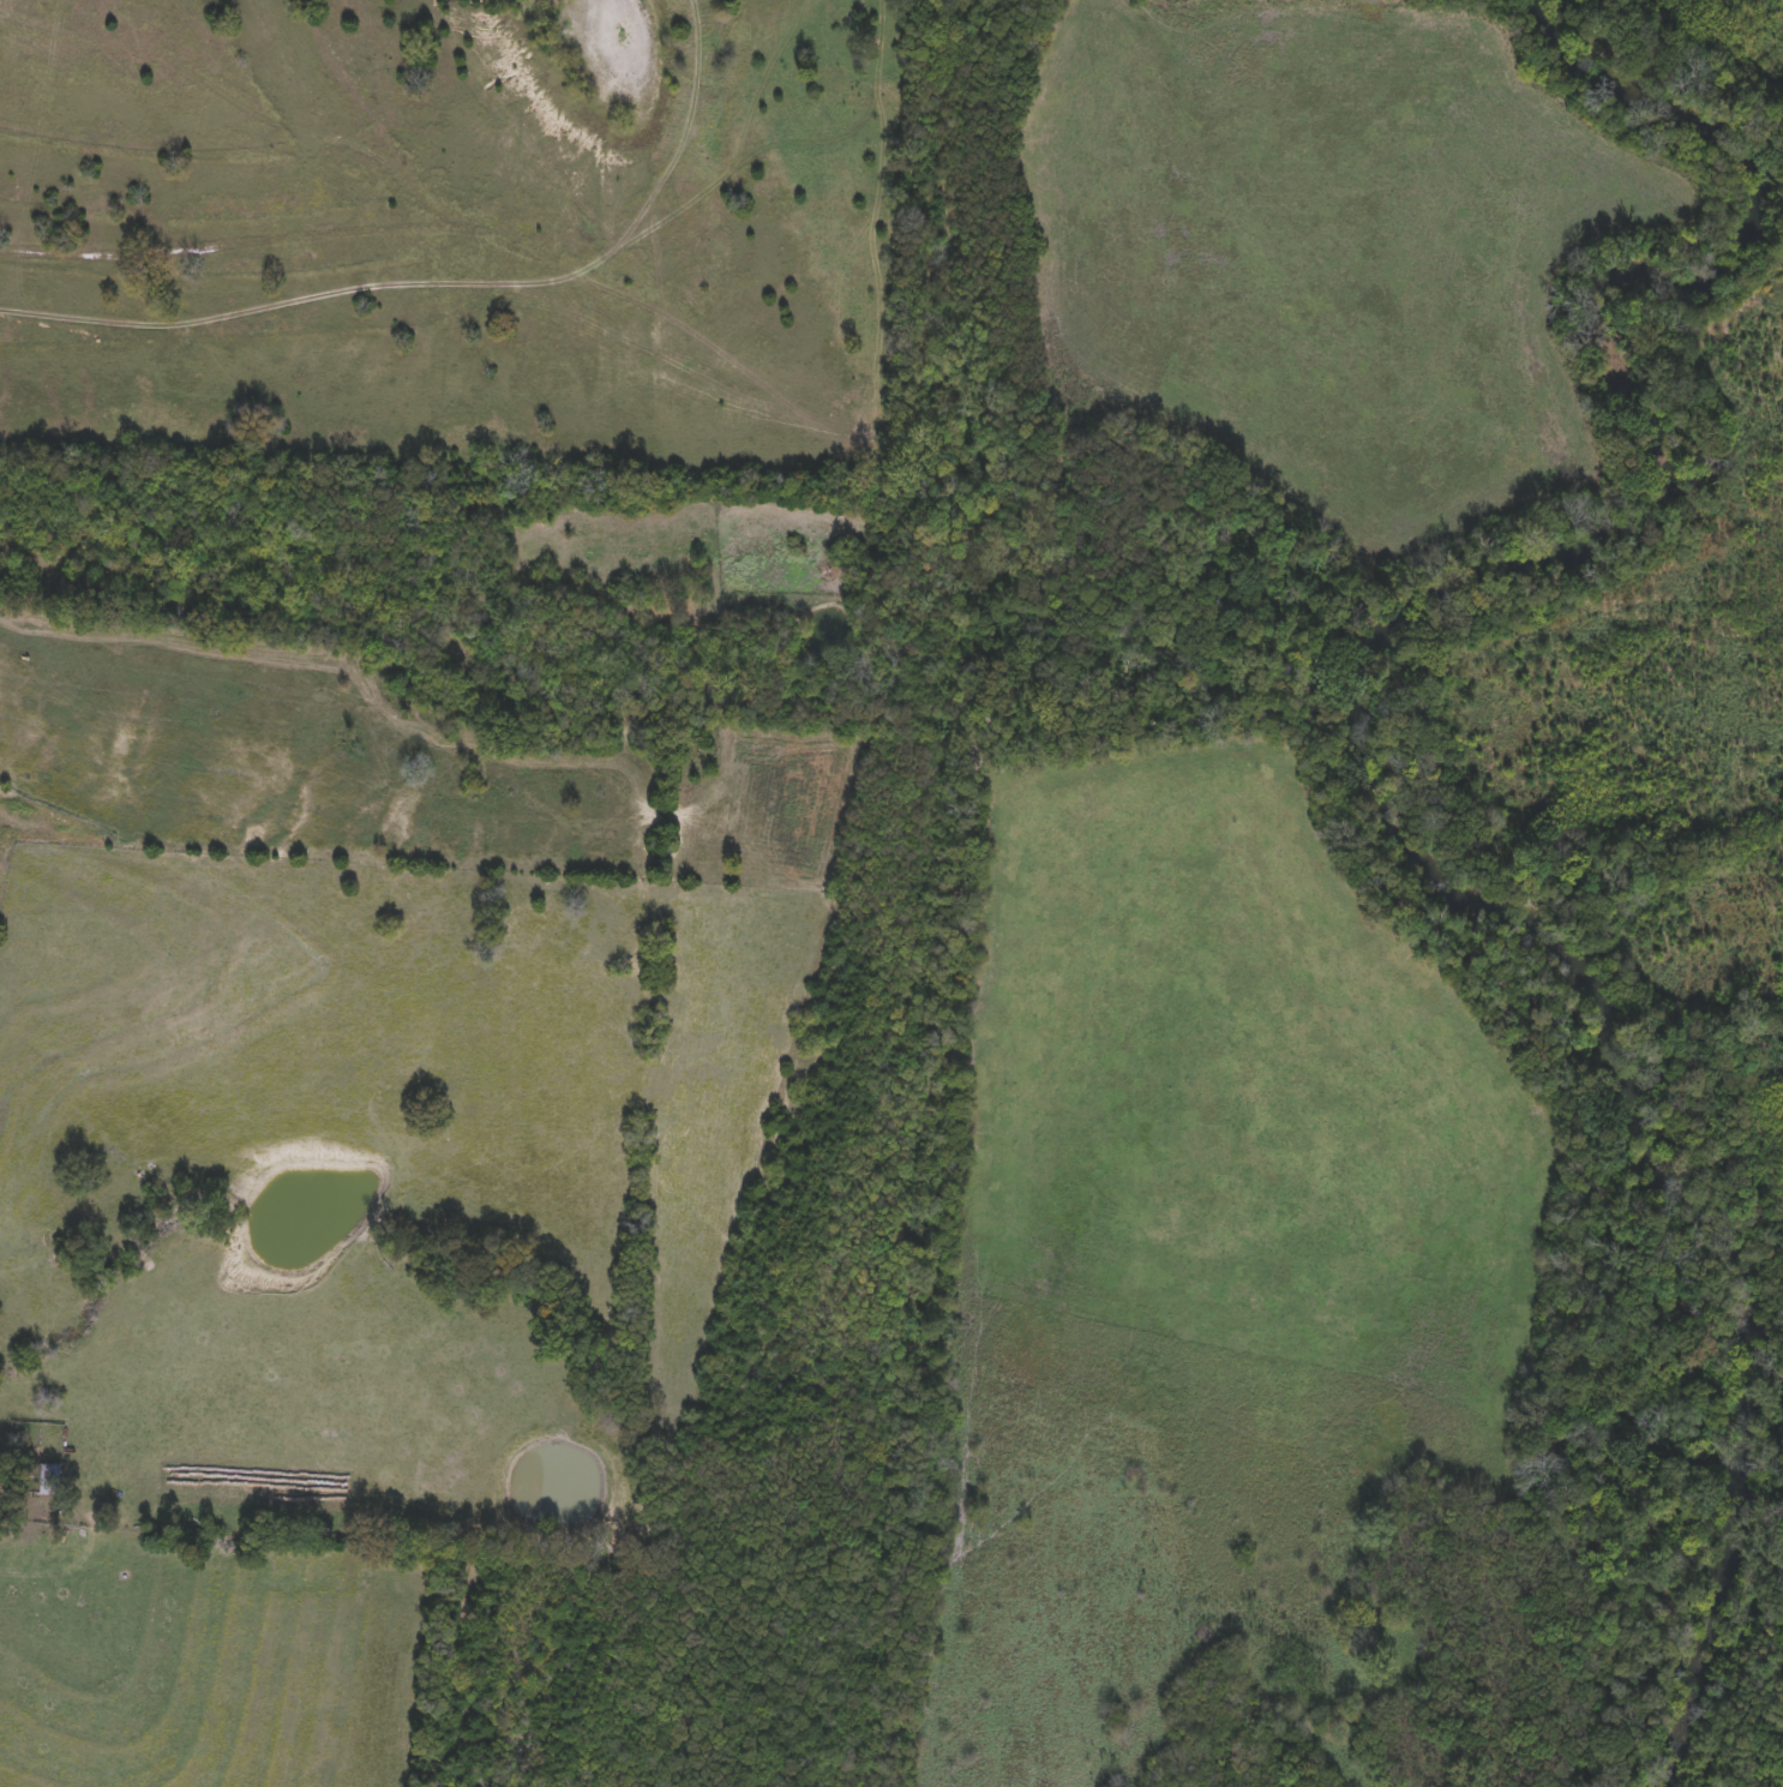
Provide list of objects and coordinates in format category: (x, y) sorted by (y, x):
building: (49, 1479)

